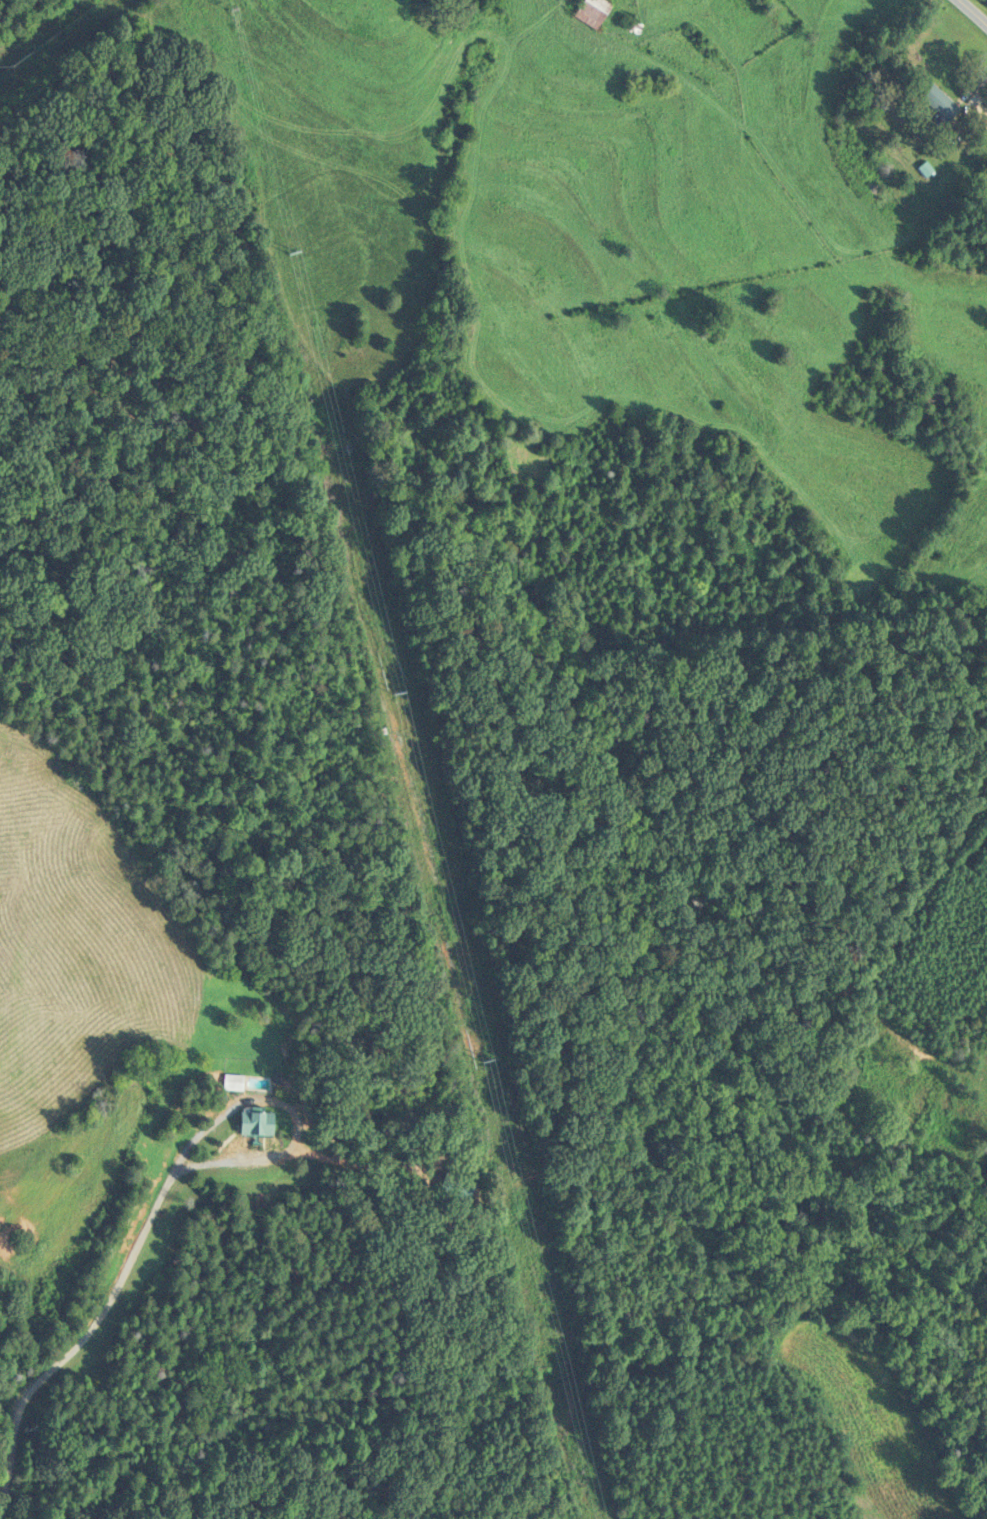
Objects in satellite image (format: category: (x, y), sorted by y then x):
road: (968, 19)
building: (935, 102)
road: (915, 935)
road: (291, 1113)
building: (251, 1122)
building: (451, 1185)
road: (86, 1336)

